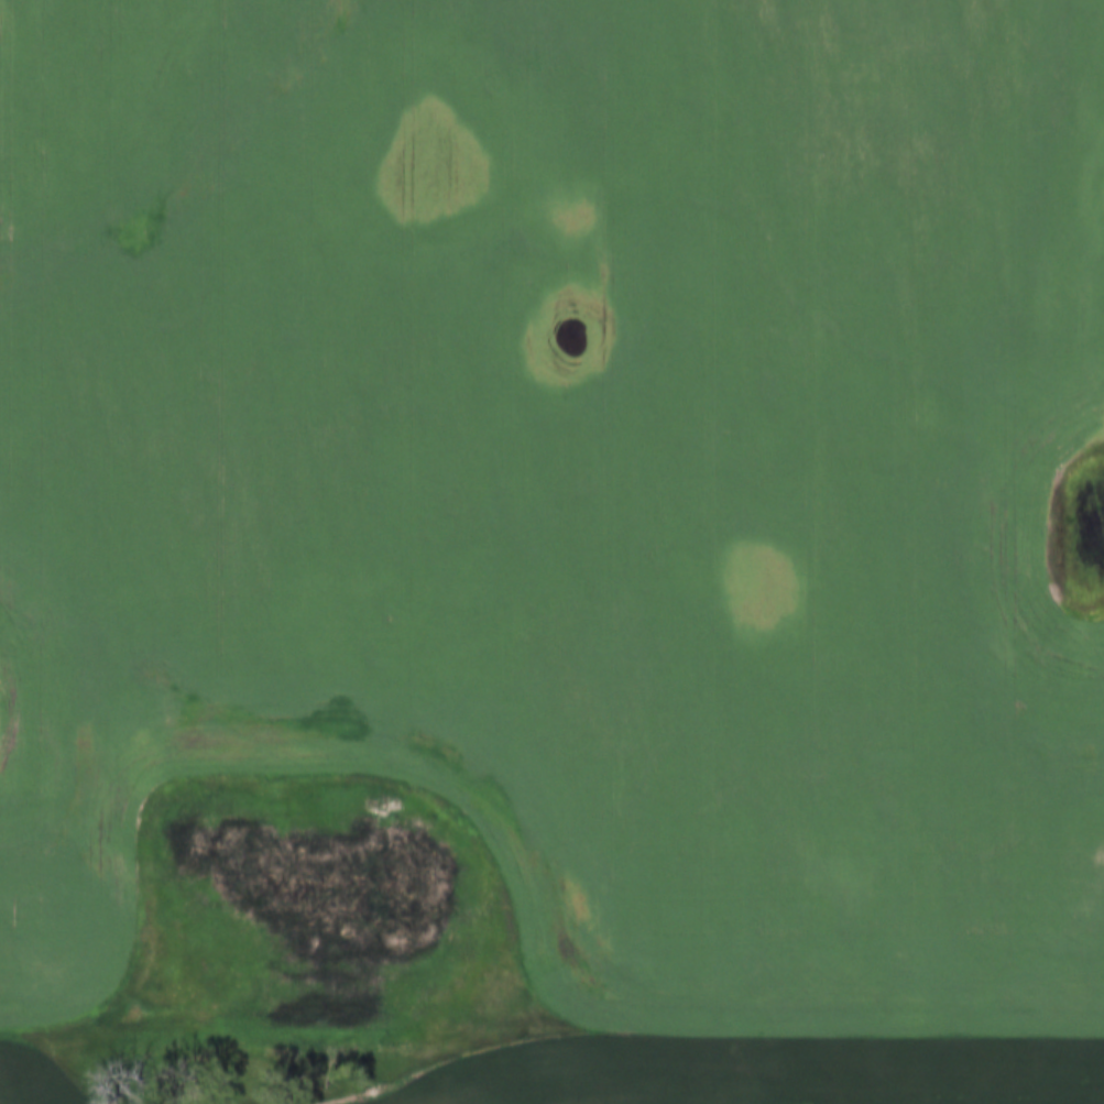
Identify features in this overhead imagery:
road: (551, 1032)

